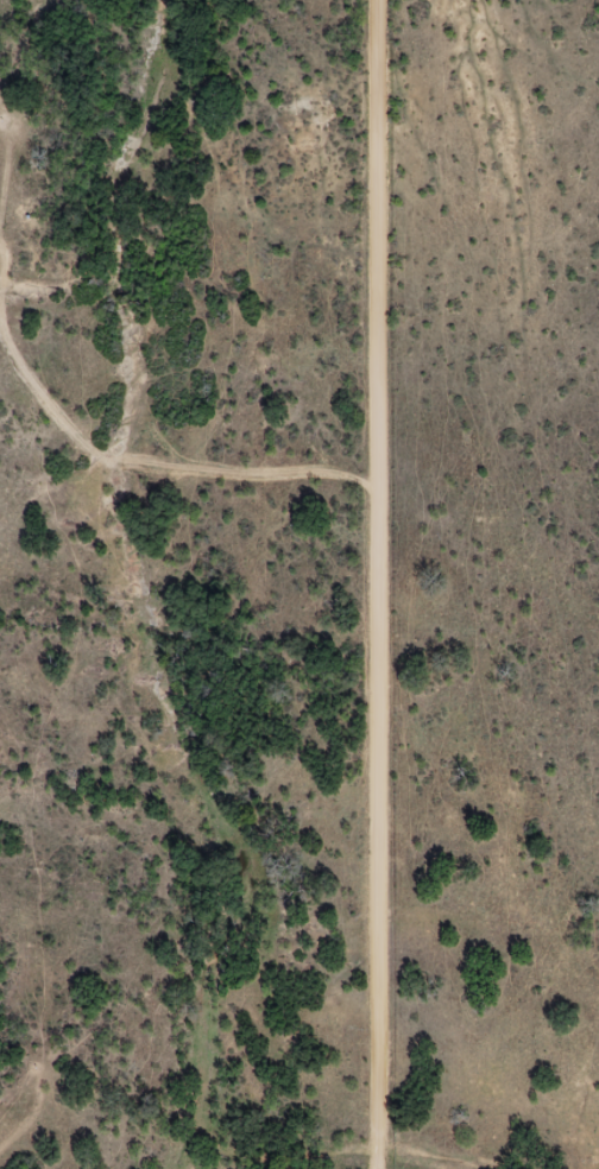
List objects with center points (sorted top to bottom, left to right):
road: (119, 450)
road: (374, 584)

